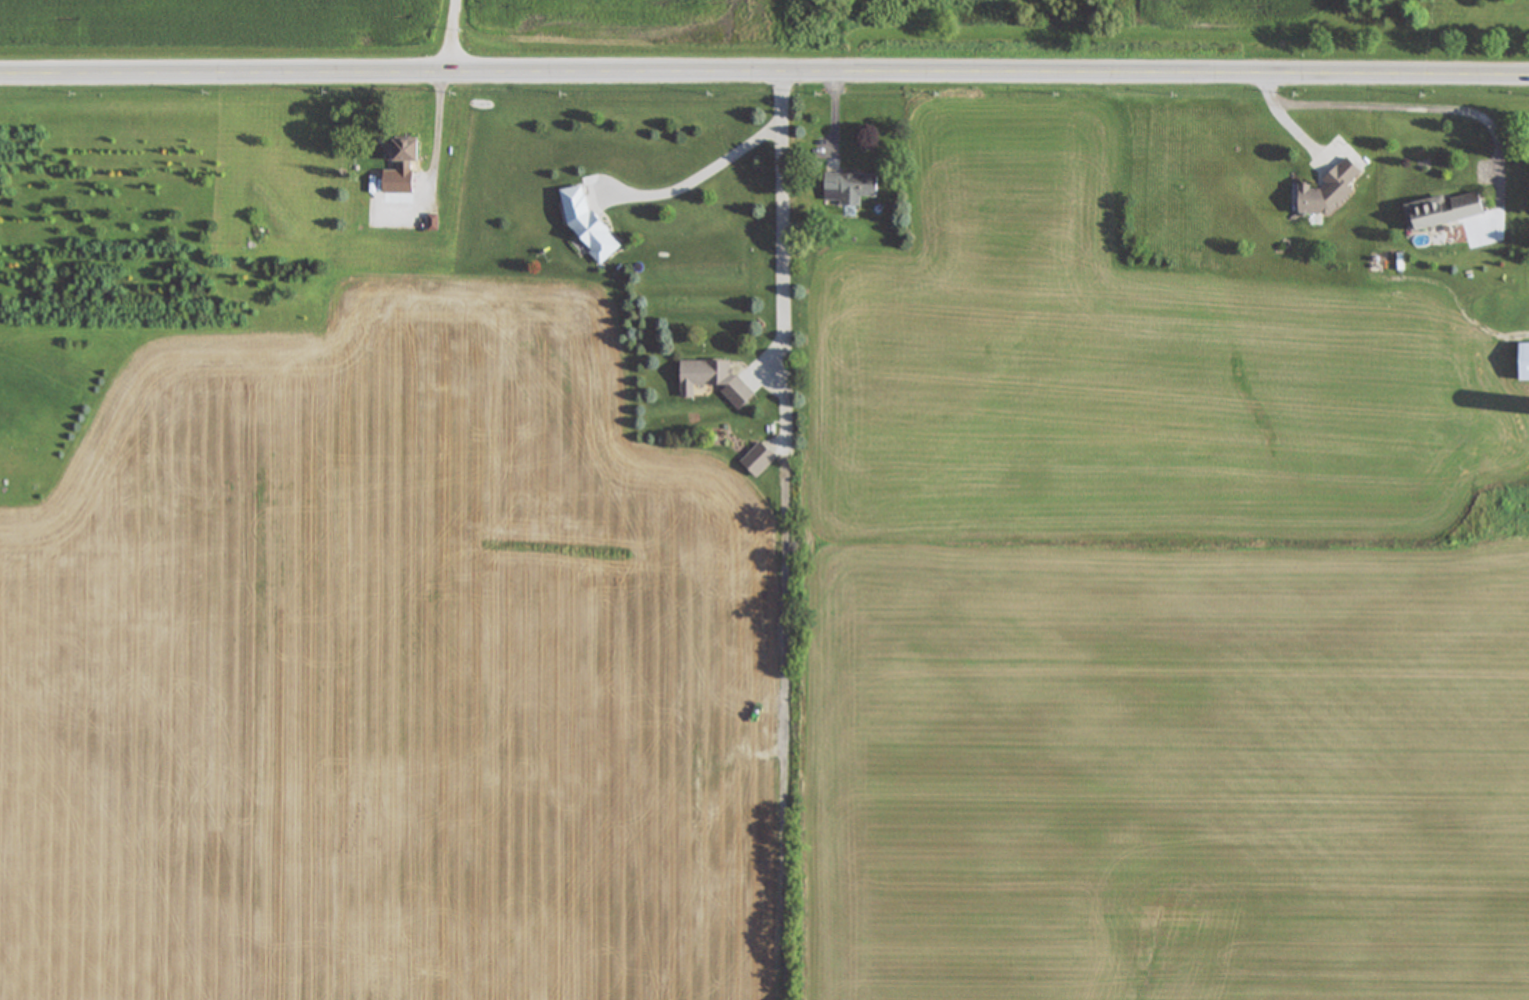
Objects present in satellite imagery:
road: (453, 36)
road: (764, 72)
road: (1406, 107)
road: (433, 133)
building: (414, 154)
road: (701, 177)
building: (852, 189)
building: (1323, 193)
building: (388, 199)
building: (1436, 211)
building: (594, 227)
road: (785, 232)
building: (1518, 362)
building: (718, 379)
road: (785, 404)
building: (765, 462)

